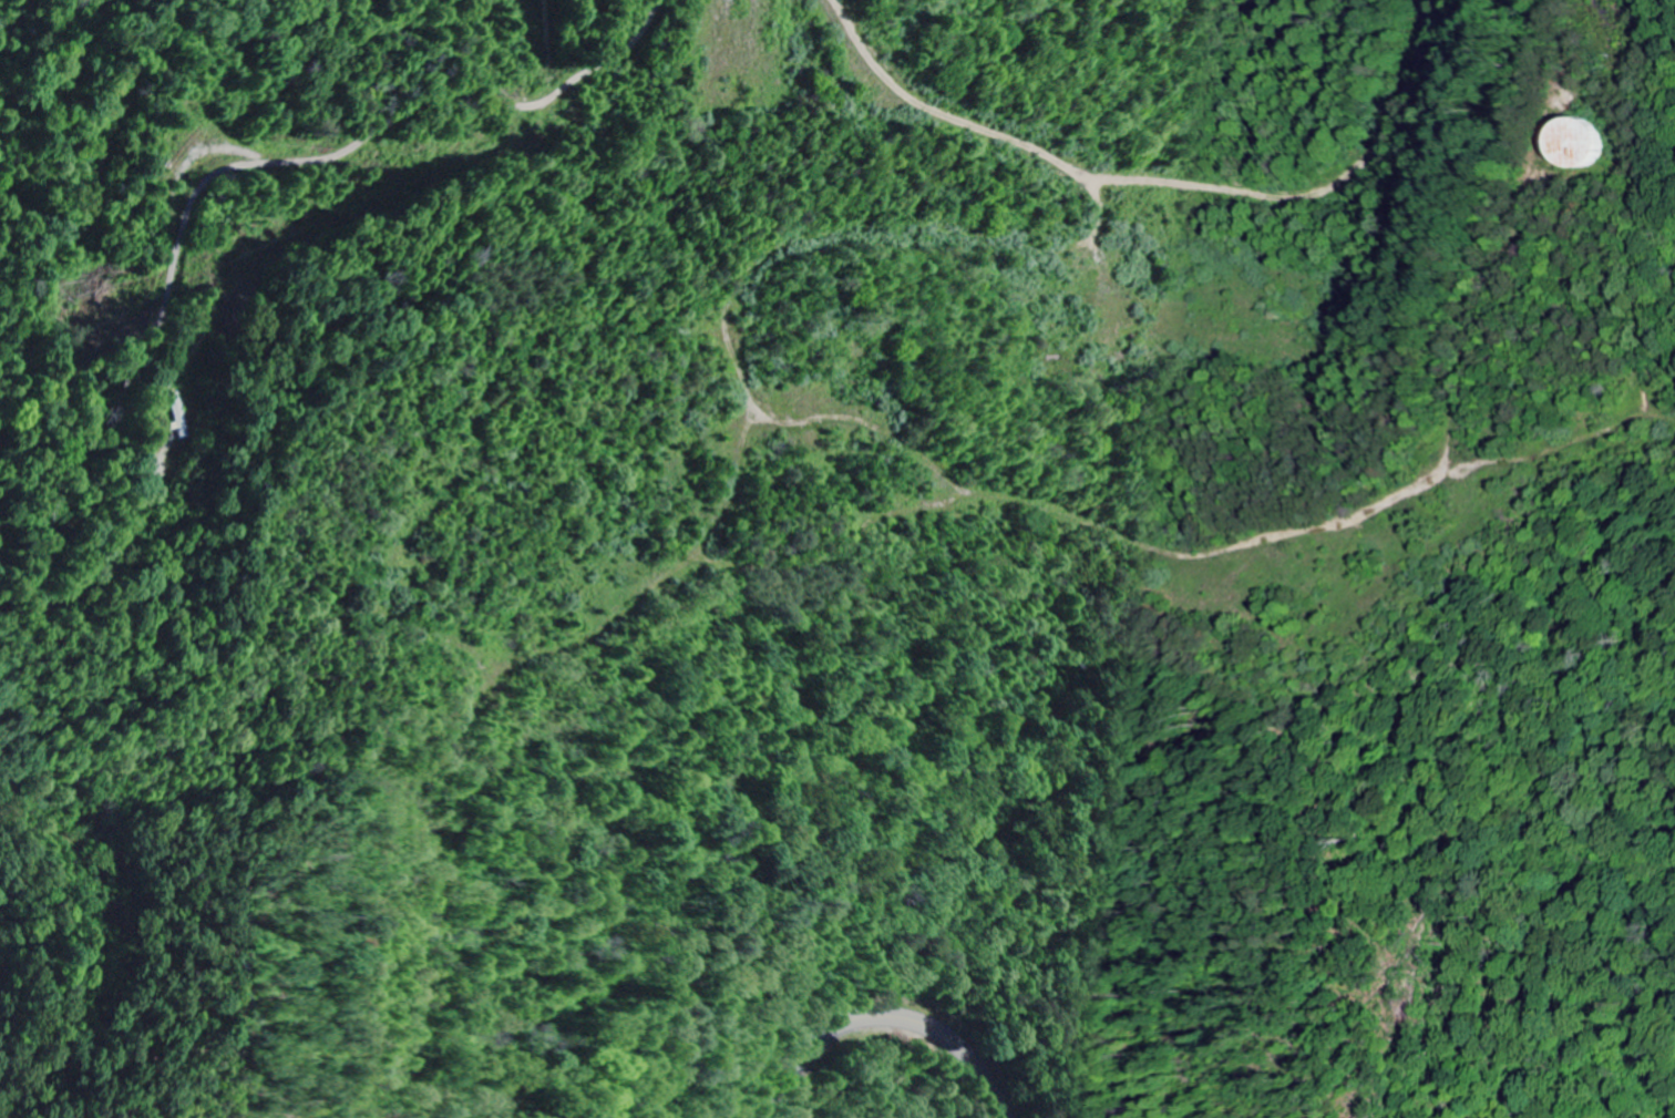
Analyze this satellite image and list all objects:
building: (1591, 144)
road: (225, 171)
road: (433, 892)
road: (887, 1017)

